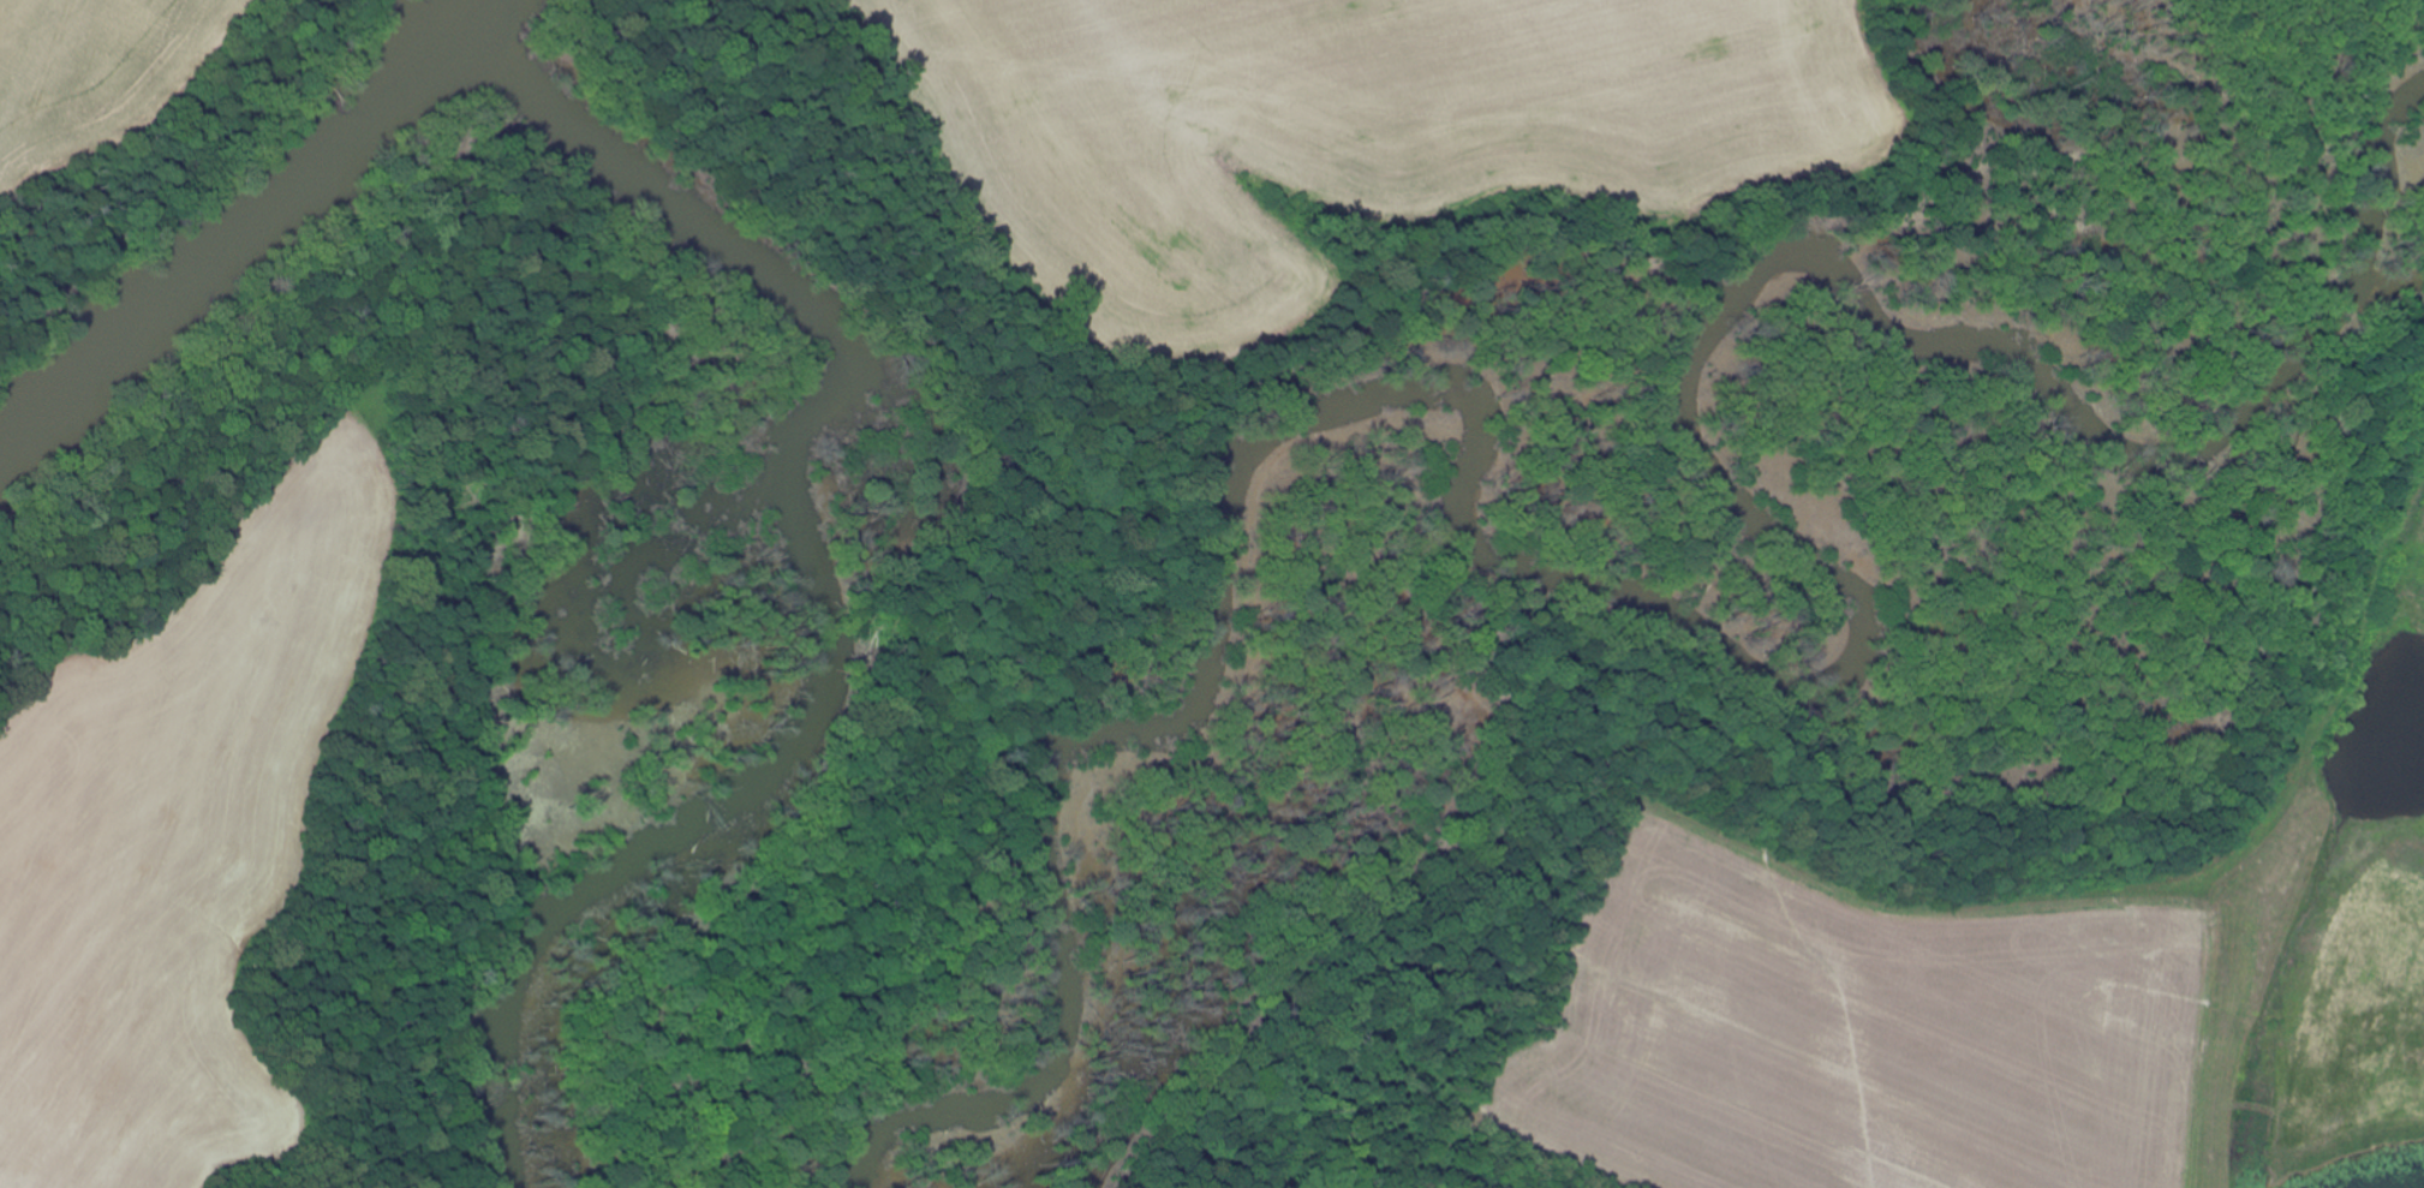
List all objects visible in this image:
river: (239, 226)
river: (813, 573)
river: (1715, 652)
road: (30, 1158)

